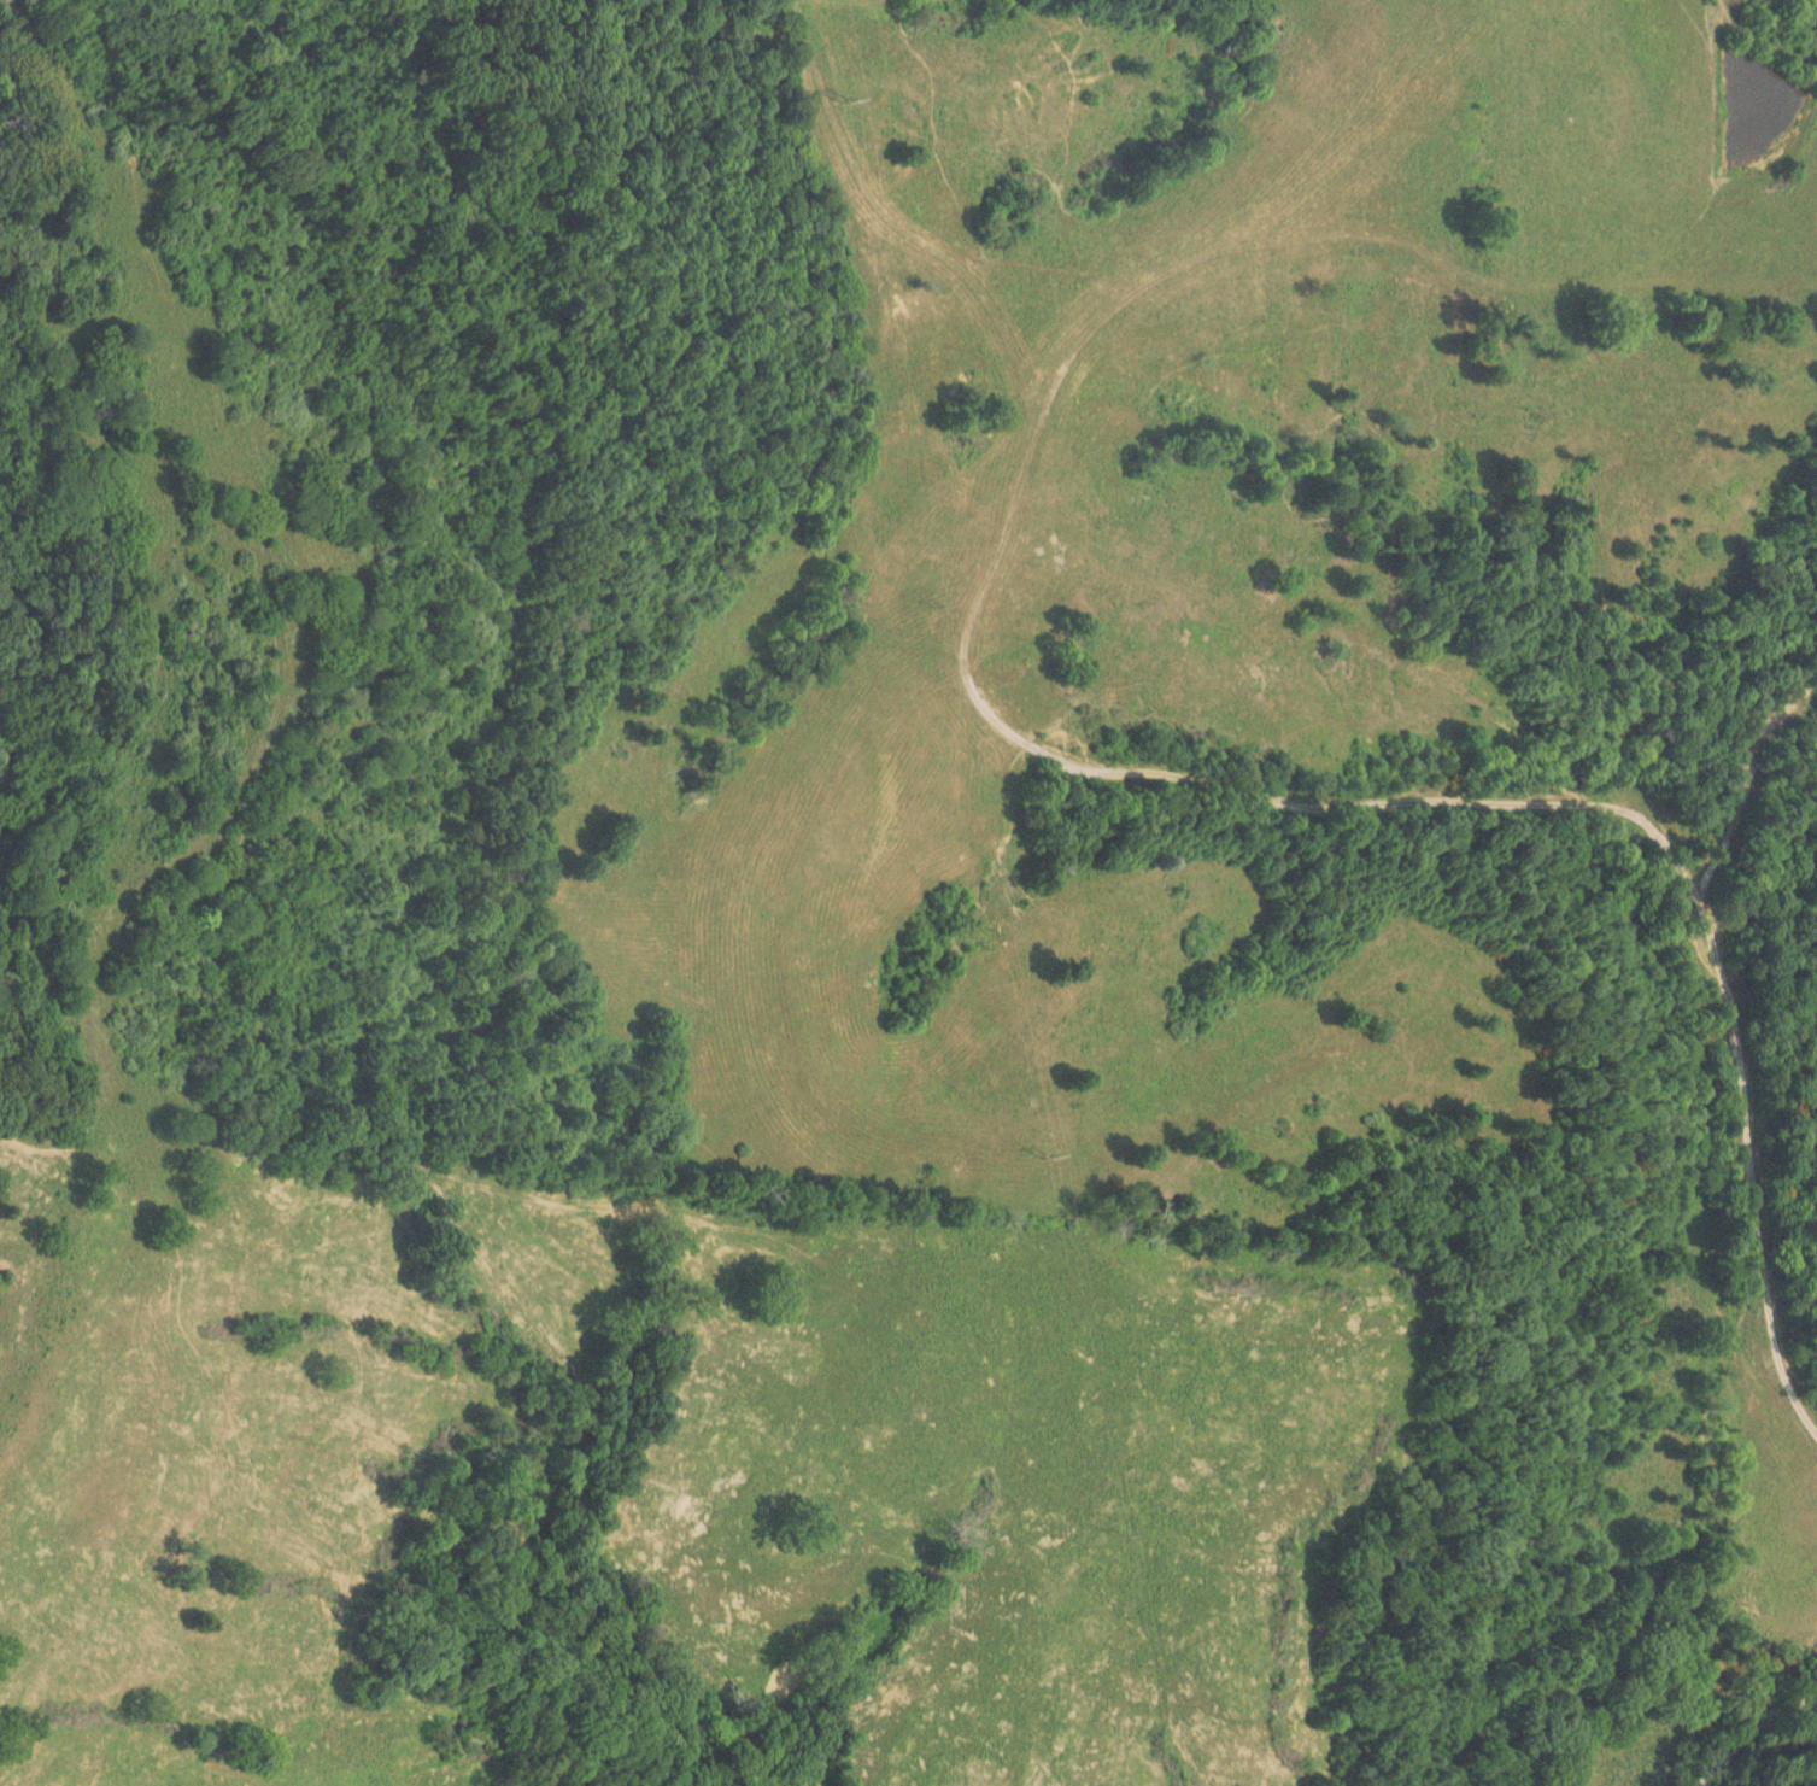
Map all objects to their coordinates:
road: (1765, 1722)

